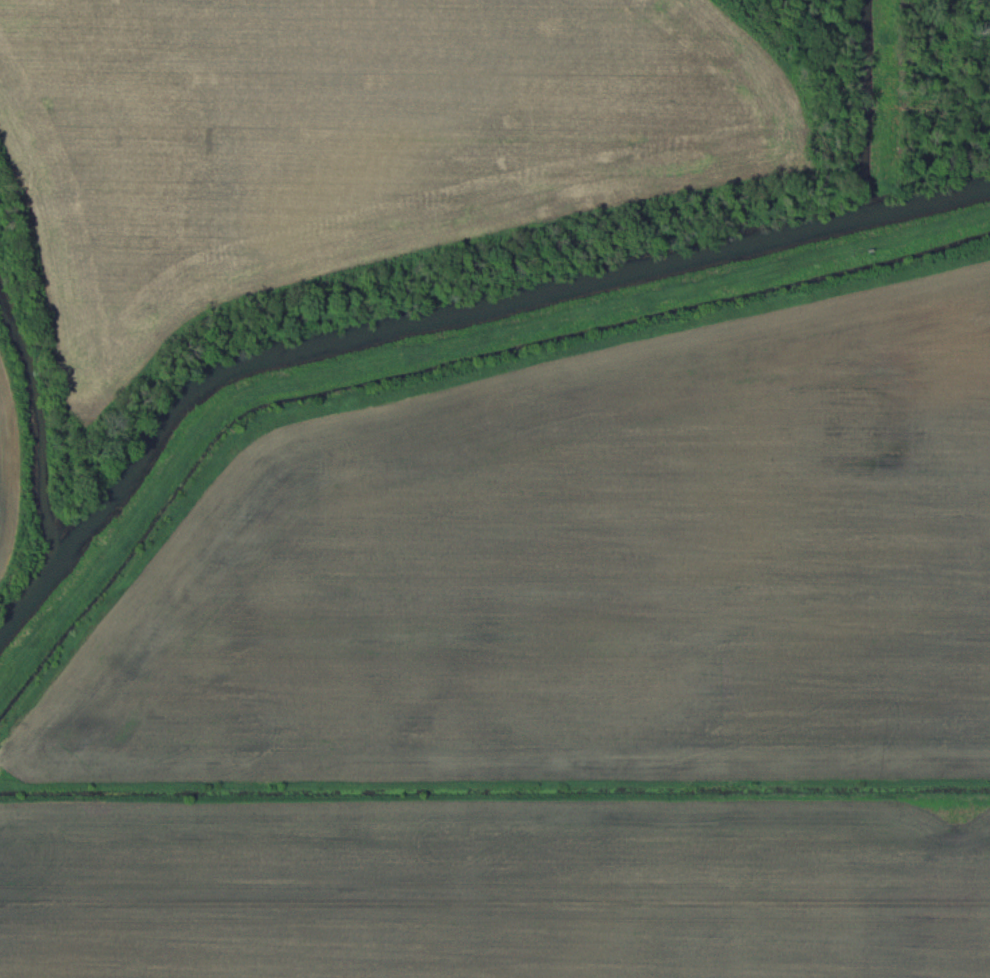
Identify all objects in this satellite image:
river: (493, 301)
crop: (5, 471)
river: (33, 579)

